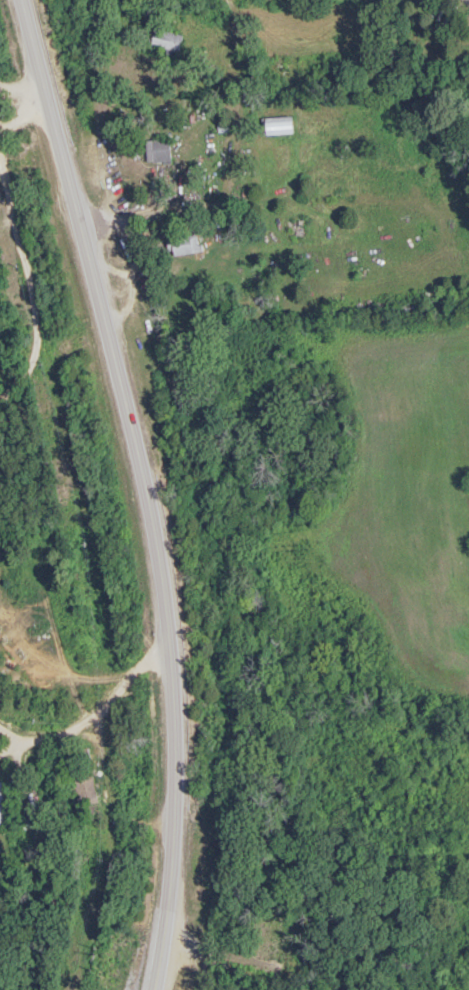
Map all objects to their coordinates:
road: (466, 3)
road: (20, 92)
road: (22, 113)
building: (283, 125)
building: (158, 151)
road: (238, 176)
building: (186, 244)
road: (29, 287)
road: (147, 487)
road: (95, 714)
building: (87, 789)
building: (4, 804)

